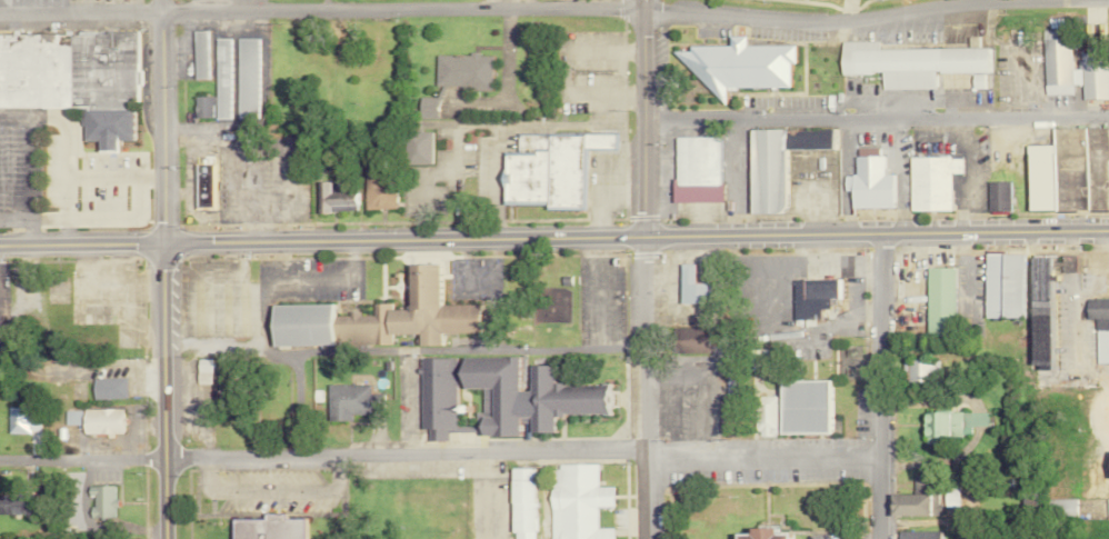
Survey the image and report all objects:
road: (840, 2)
road: (635, 3)
road: (481, 7)
building: (194, 53)
building: (906, 62)
building: (1058, 62)
building: (730, 64)
building: (458, 70)
building: (1095, 74)
building: (71, 78)
building: (218, 78)
building: (243, 79)
building: (199, 107)
building: (422, 108)
road: (13, 114)
road: (29, 114)
road: (873, 119)
road: (153, 120)
building: (417, 147)
road: (239, 151)
building: (772, 161)
building: (544, 169)
building: (691, 169)
building: (1067, 170)
road: (966, 174)
building: (199, 179)
building: (929, 181)
building: (866, 182)
building: (377, 190)
building: (996, 196)
building: (333, 197)
road: (98, 219)
road: (631, 237)
road: (77, 243)
building: (1067, 263)
road: (638, 273)
building: (1000, 285)
building: (688, 286)
building: (810, 296)
building: (938, 301)
building: (1038, 307)
building: (1097, 311)
building: (373, 317)
building: (688, 340)
building: (920, 370)
building: (201, 371)
building: (729, 382)
road: (878, 386)
building: (106, 388)
road: (159, 390)
building: (500, 396)
building: (351, 401)
building: (791, 408)
building: (14, 420)
building: (92, 420)
building: (948, 423)
road: (440, 452)
building: (1108, 473)
road: (340, 477)
road: (209, 479)
road: (277, 489)
building: (949, 497)
building: (913, 499)
building: (99, 500)
building: (576, 501)
building: (521, 502)
building: (12, 503)
building: (1060, 507)
building: (266, 527)
building: (759, 533)
building: (917, 535)

